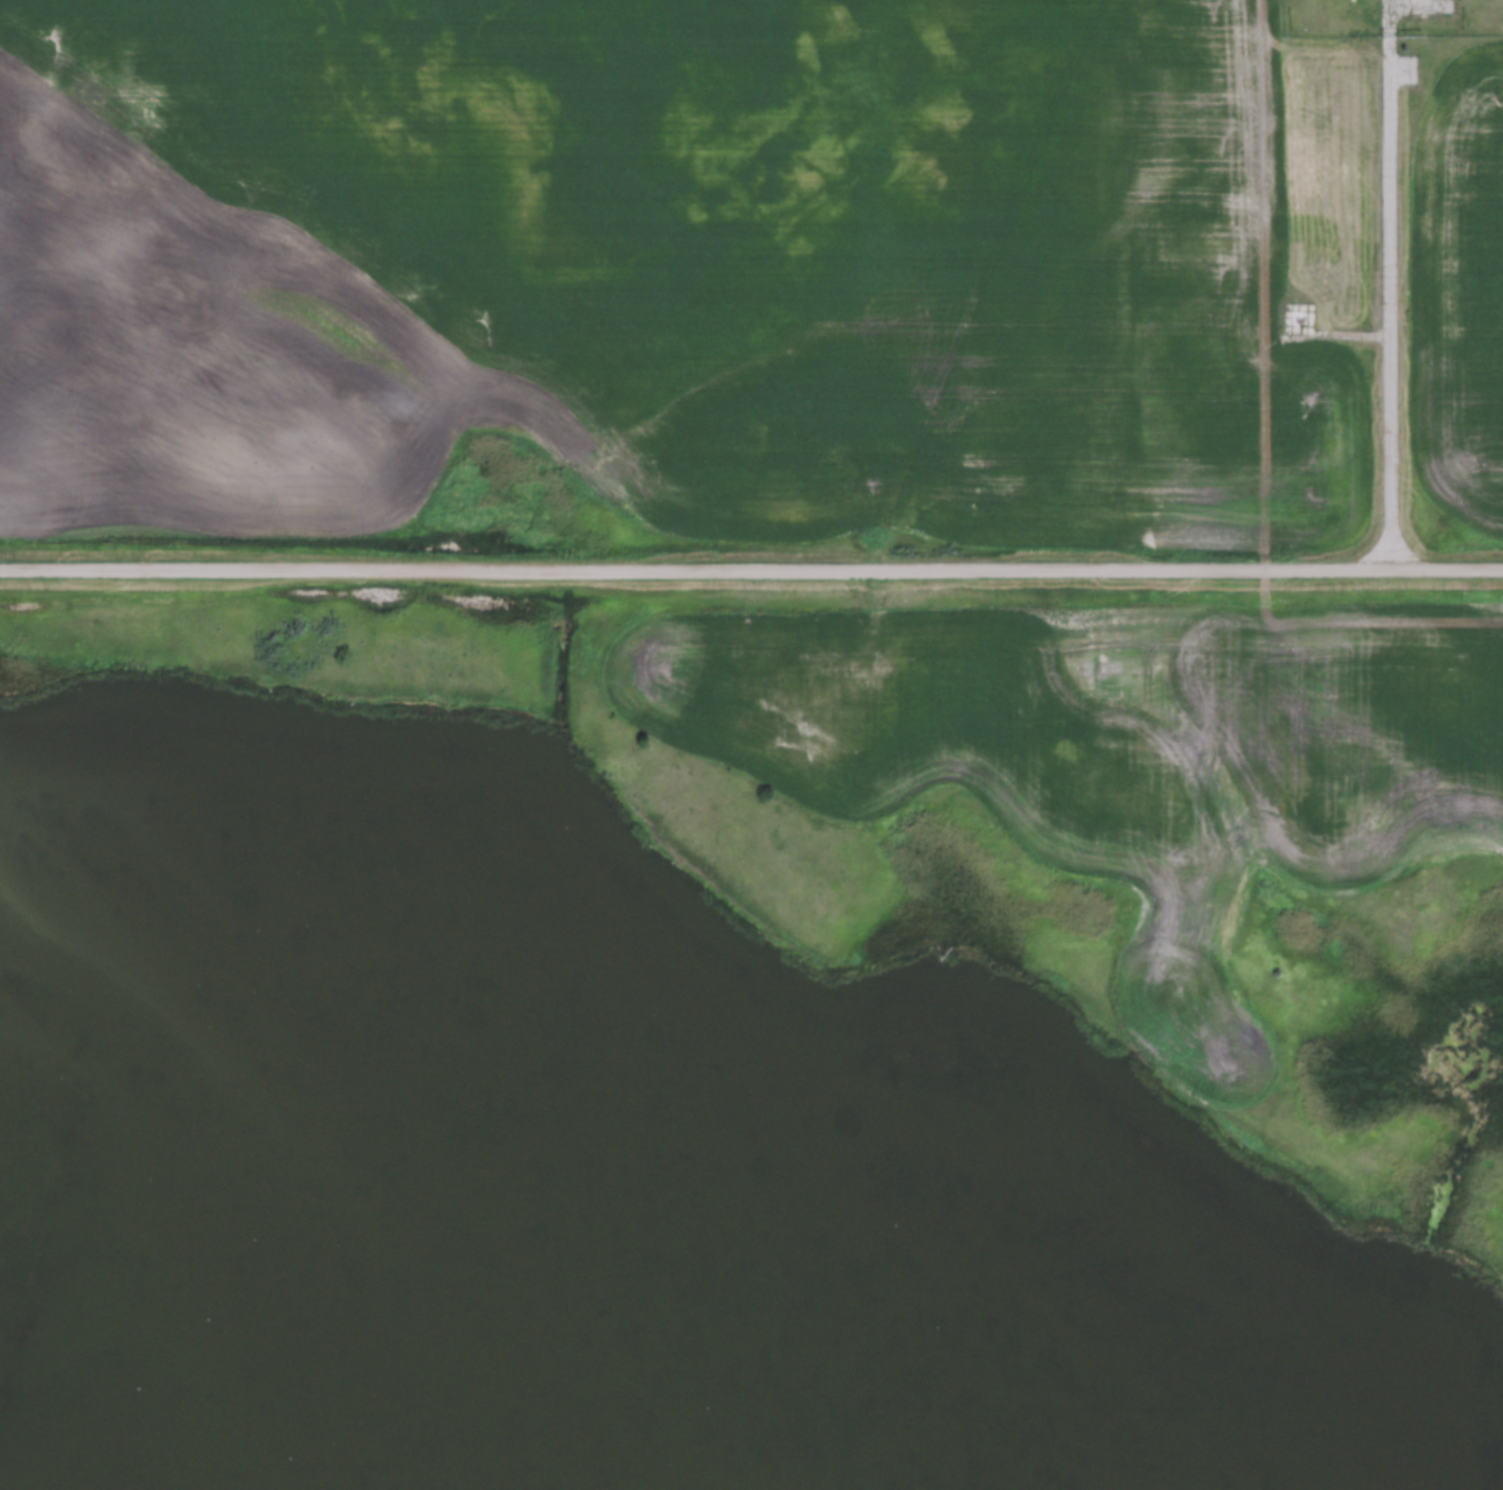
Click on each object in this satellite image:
road: (1389, 284)
helipad: (1306, 329)
road: (751, 570)

